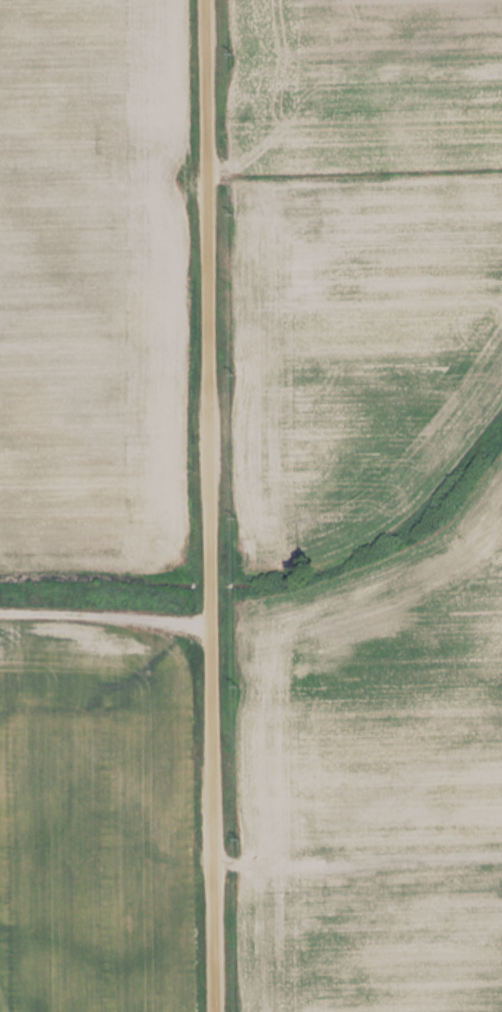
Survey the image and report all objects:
road: (208, 505)
road: (105, 621)

